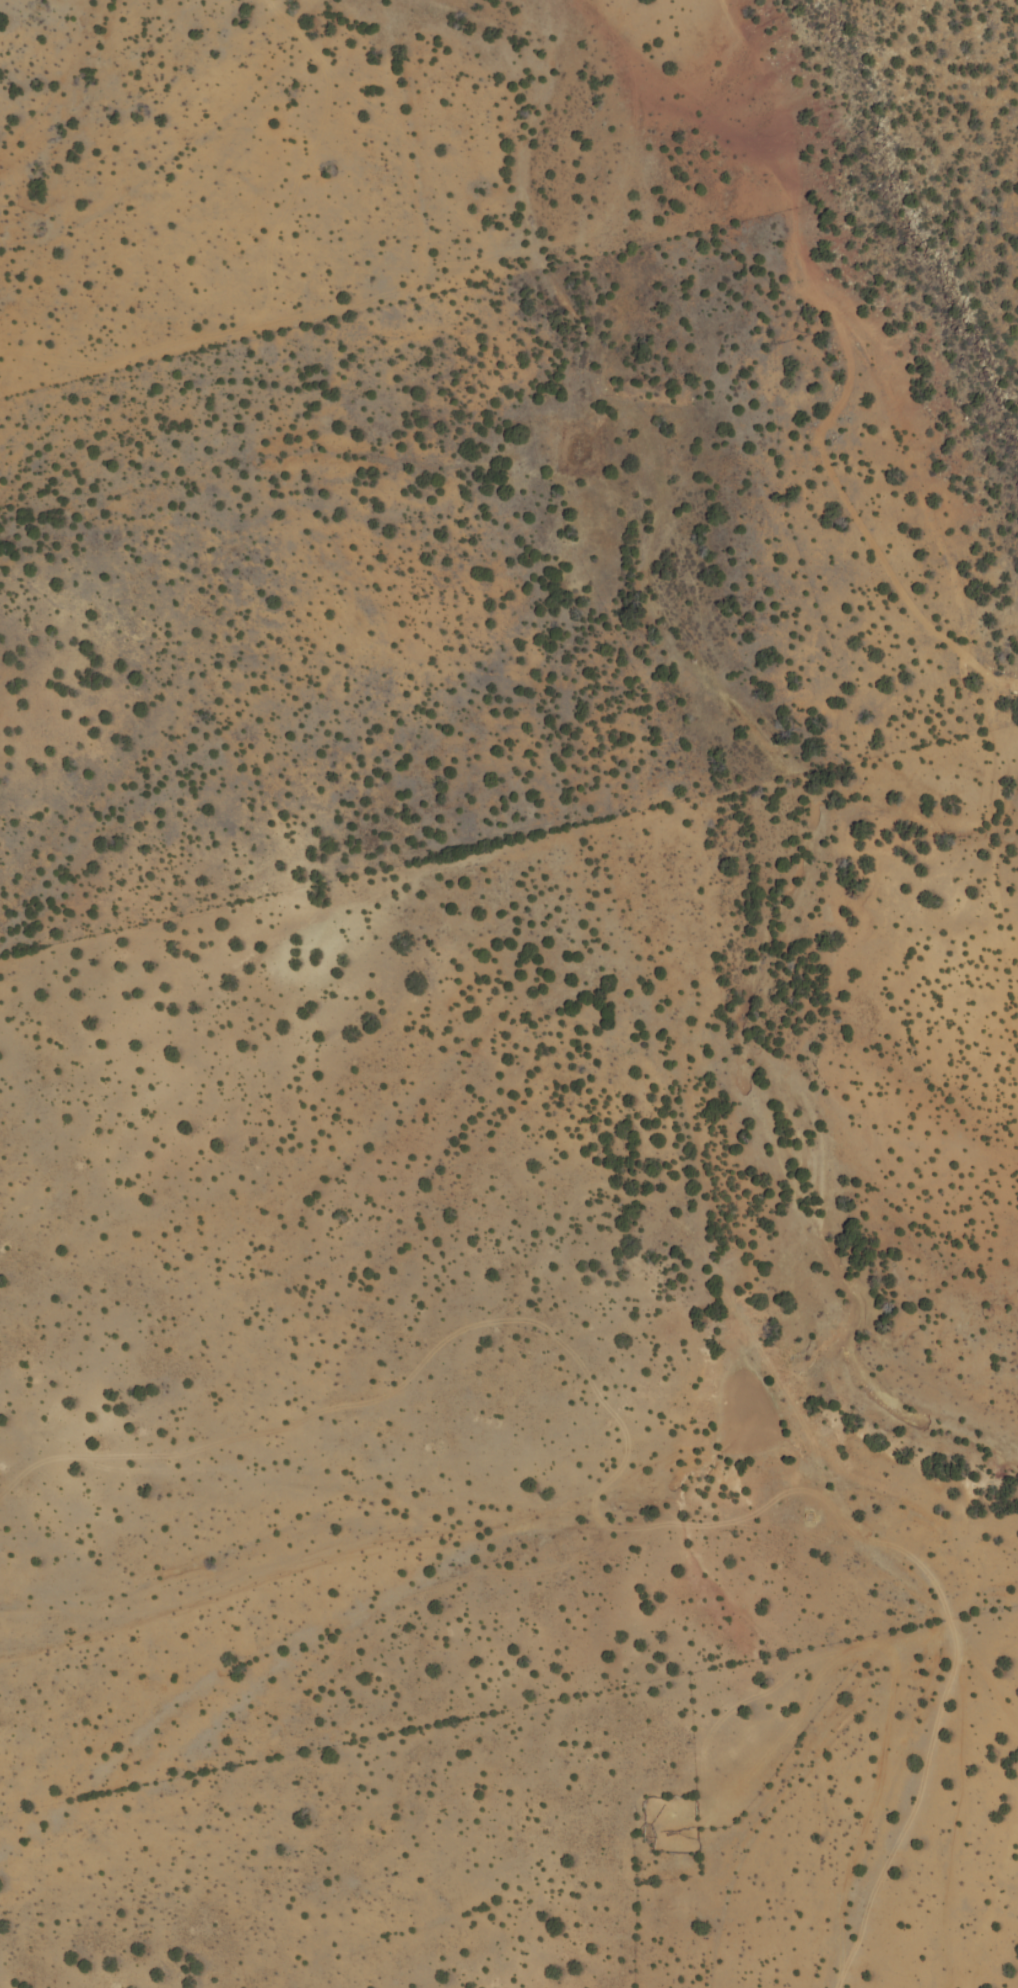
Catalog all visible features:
road: (960, 622)
road: (786, 1496)

